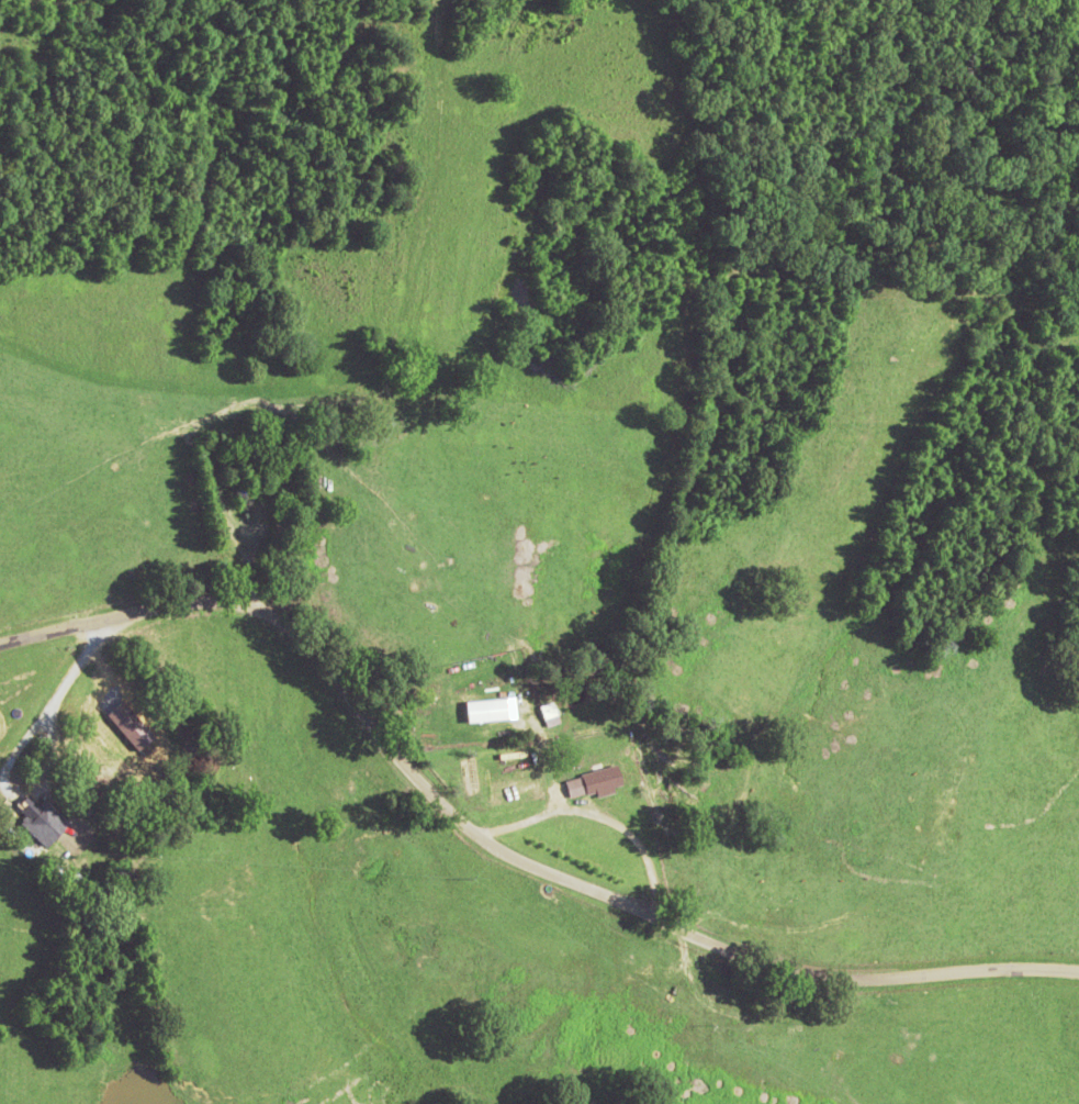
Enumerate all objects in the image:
road: (20, 627)
building: (109, 750)
building: (599, 784)
road: (540, 790)
road: (509, 819)
building: (43, 826)

